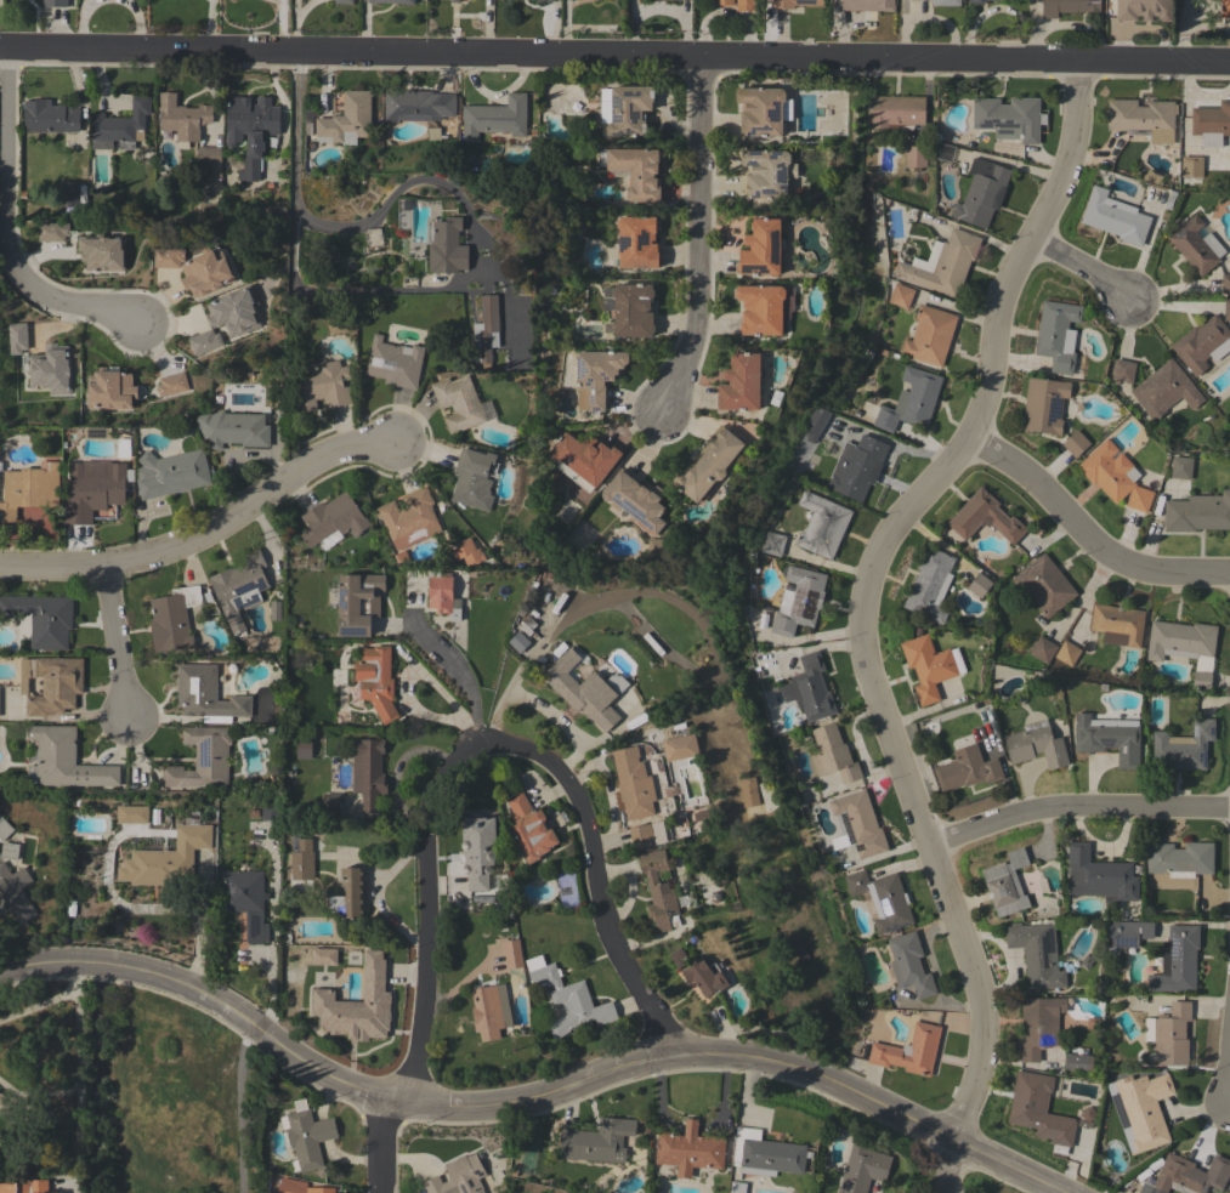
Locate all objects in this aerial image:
building: (511, 0)
building: (543, 0)
building: (607, 0)
building: (670, 0)
building: (986, 0)
building: (342, 1)
building: (392, 1)
building: (454, 1)
building: (722, 1)
building: (975, 1)
building: (793, 2)
building: (946, 2)
building: (55, 4)
building: (744, 5)
building: (863, 5)
building: (1067, 6)
building: (1225, 8)
building: (1141, 10)
road: (614, 56)
building: (416, 106)
building: (624, 109)
building: (763, 110)
building: (896, 113)
building: (50, 117)
building: (182, 117)
building: (1009, 118)
building: (1143, 118)
building: (494, 119)
building: (308, 120)
building: (346, 120)
building: (1211, 124)
road: (295, 125)
building: (119, 126)
building: (250, 130)
building: (914, 157)
building: (209, 158)
building: (1191, 166)
building: (633, 171)
building: (766, 175)
building: (68, 193)
building: (981, 193)
building: (1115, 217)
road: (4, 233)
building: (51, 233)
building: (373, 237)
road: (698, 240)
building: (637, 242)
building: (1196, 245)
building: (447, 248)
building: (761, 249)
building: (101, 252)
building: (168, 257)
building: (943, 265)
road: (471, 267)
road: (1079, 267)
building: (206, 272)
building: (1225, 283)
building: (901, 295)
building: (764, 308)
building: (628, 309)
building: (1226, 309)
building: (234, 311)
building: (484, 329)
building: (929, 335)
building: (1058, 335)
building: (17, 337)
building: (204, 340)
building: (1202, 343)
building: (395, 362)
building: (51, 369)
building: (1122, 370)
building: (595, 375)
building: (741, 382)
building: (171, 384)
building: (321, 386)
building: (109, 388)
building: (1164, 390)
building: (911, 399)
building: (458, 402)
building: (1044, 405)
building: (816, 420)
building: (233, 428)
building: (1075, 443)
building: (583, 459)
building: (708, 464)
building: (856, 466)
building: (1180, 467)
building: (170, 472)
building: (1115, 476)
building: (472, 478)
building: (29, 488)
building: (92, 488)
building: (635, 500)
building: (1197, 512)
building: (985, 517)
building: (409, 518)
building: (333, 521)
building: (822, 524)
road: (1090, 530)
road: (209, 533)
building: (772, 542)
building: (657, 546)
building: (467, 552)
building: (979, 584)
building: (1044, 584)
building: (930, 585)
building: (239, 587)
building: (442, 595)
building: (798, 598)
building: (358, 603)
building: (274, 610)
road: (860, 612)
building: (41, 618)
building: (171, 618)
building: (1117, 624)
building: (528, 626)
building: (518, 642)
road: (118, 643)
building: (1184, 646)
building: (1042, 649)
building: (1067, 653)
building: (930, 666)
road: (465, 672)
building: (375, 680)
building: (51, 683)
building: (809, 688)
building: (579, 689)
building: (206, 695)
building: (1109, 738)
road: (486, 742)
building: (1036, 745)
building: (679, 746)
building: (302, 748)
building: (1183, 748)
building: (832, 754)
building: (202, 759)
building: (63, 760)
building: (967, 768)
building: (368, 773)
building: (633, 783)
building: (748, 791)
building: (329, 801)
building: (271, 807)
road: (1078, 809)
building: (132, 814)
building: (858, 823)
building: (528, 828)
building: (4, 829)
building: (640, 834)
building: (8, 850)
building: (477, 850)
building: (166, 858)
building: (1179, 859)
building: (301, 865)
building: (1099, 876)
building: (1005, 884)
building: (657, 888)
building: (15, 892)
building: (348, 893)
building: (882, 898)
building: (245, 899)
building: (1127, 933)
building: (798, 949)
building: (511, 951)
building: (1036, 954)
building: (322, 956)
building: (676, 956)
building: (1177, 960)
building: (909, 964)
building: (704, 977)
building: (567, 998)
road: (36, 1002)
building: (357, 1005)
building: (486, 1012)
building: (1038, 1026)
building: (1171, 1036)
building: (909, 1051)
building: (1078, 1062)
road: (74, 1076)
road: (1229, 1081)
road: (531, 1087)
road: (35, 1091)
building: (7, 1104)
road: (242, 1108)
building: (1039, 1110)
building: (1147, 1112)
building: (306, 1135)
building: (597, 1141)
road: (386, 1143)
building: (690, 1149)
building: (766, 1153)
building: (862, 1168)
building: (1191, 1175)
building: (458, 1176)
building: (25, 1186)
building: (301, 1187)
building: (737, 1187)
building: (55, 1192)

